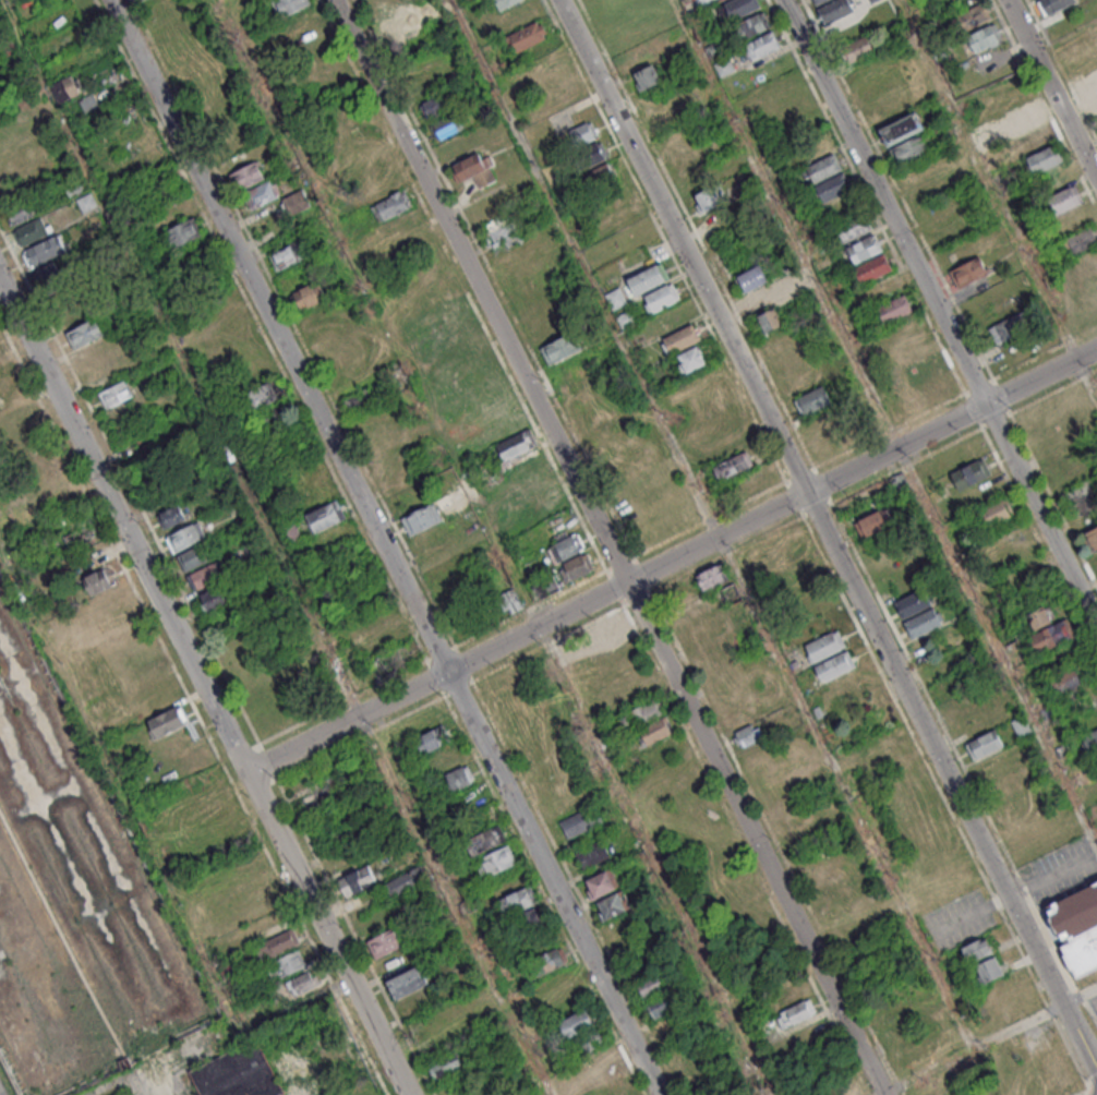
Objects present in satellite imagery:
building: (719, 0)
building: (821, 2)
building: (505, 3)
building: (1058, 4)
building: (743, 8)
building: (837, 10)
building: (165, 13)
building: (296, 15)
building: (972, 17)
building: (408, 24)
building: (754, 27)
building: (526, 36)
building: (986, 37)
building: (764, 46)
building: (858, 50)
building: (723, 65)
building: (647, 76)
building: (1088, 85)
road: (1053, 87)
building: (64, 88)
building: (562, 93)
building: (88, 103)
building: (1094, 104)
building: (436, 105)
building: (1026, 119)
building: (445, 127)
building: (902, 129)
building: (583, 133)
building: (1033, 141)
building: (911, 152)
building: (593, 154)
building: (1042, 161)
building: (827, 169)
building: (474, 170)
building: (246, 176)
building: (602, 176)
building: (835, 188)
building: (164, 190)
building: (260, 194)
building: (708, 198)
building: (296, 201)
building: (1066, 201)
building: (86, 202)
building: (391, 205)
building: (22, 213)
building: (495, 228)
building: (856, 229)
building: (29, 232)
building: (183, 232)
building: (1083, 242)
building: (866, 250)
building: (44, 251)
building: (288, 255)
building: (875, 269)
building: (972, 273)
building: (751, 279)
building: (650, 280)
building: (310, 294)
building: (618, 299)
building: (663, 299)
building: (767, 306)
road: (942, 309)
building: (896, 310)
building: (628, 320)
building: (1012, 328)
building: (85, 332)
building: (684, 339)
building: (563, 349)
building: (691, 361)
building: (926, 372)
road: (974, 389)
building: (114, 394)
building: (264, 394)
building: (813, 401)
building: (515, 444)
building: (732, 466)
building: (971, 473)
building: (900, 483)
building: (994, 513)
building: (172, 515)
building: (325, 516)
building: (422, 518)
road: (711, 522)
building: (872, 522)
building: (289, 531)
road: (824, 532)
building: (77, 537)
building: (185, 537)
building: (1093, 540)
building: (565, 545)
road: (384, 546)
road: (608, 546)
building: (193, 557)
road: (671, 559)
building: (578, 566)
building: (206, 575)
building: (712, 577)
building: (98, 580)
building: (213, 599)
building: (510, 601)
building: (915, 602)
building: (924, 623)
building: (611, 626)
building: (1048, 628)
building: (825, 645)
building: (568, 647)
building: (391, 661)
building: (835, 665)
building: (1065, 679)
road: (203, 688)
building: (161, 698)
building: (641, 715)
building: (167, 722)
building: (1022, 726)
building: (654, 733)
building: (747, 735)
building: (434, 738)
building: (1090, 739)
building: (985, 744)
building: (459, 777)
building: (580, 821)
building: (337, 838)
building: (485, 840)
building: (592, 854)
building: (496, 862)
building: (357, 880)
building: (405, 881)
building: (602, 882)
building: (518, 900)
building: (614, 904)
building: (533, 919)
building: (1076, 928)
building: (384, 942)
building: (277, 944)
building: (977, 950)
building: (548, 961)
building: (286, 964)
building: (988, 970)
building: (408, 982)
building: (301, 983)
building: (651, 985)
road: (1081, 991)
building: (661, 1006)
building: (795, 1013)
building: (577, 1023)
building: (592, 1040)
road: (973, 1046)
building: (603, 1062)
building: (445, 1064)
building: (237, 1073)
road: (877, 1093)

